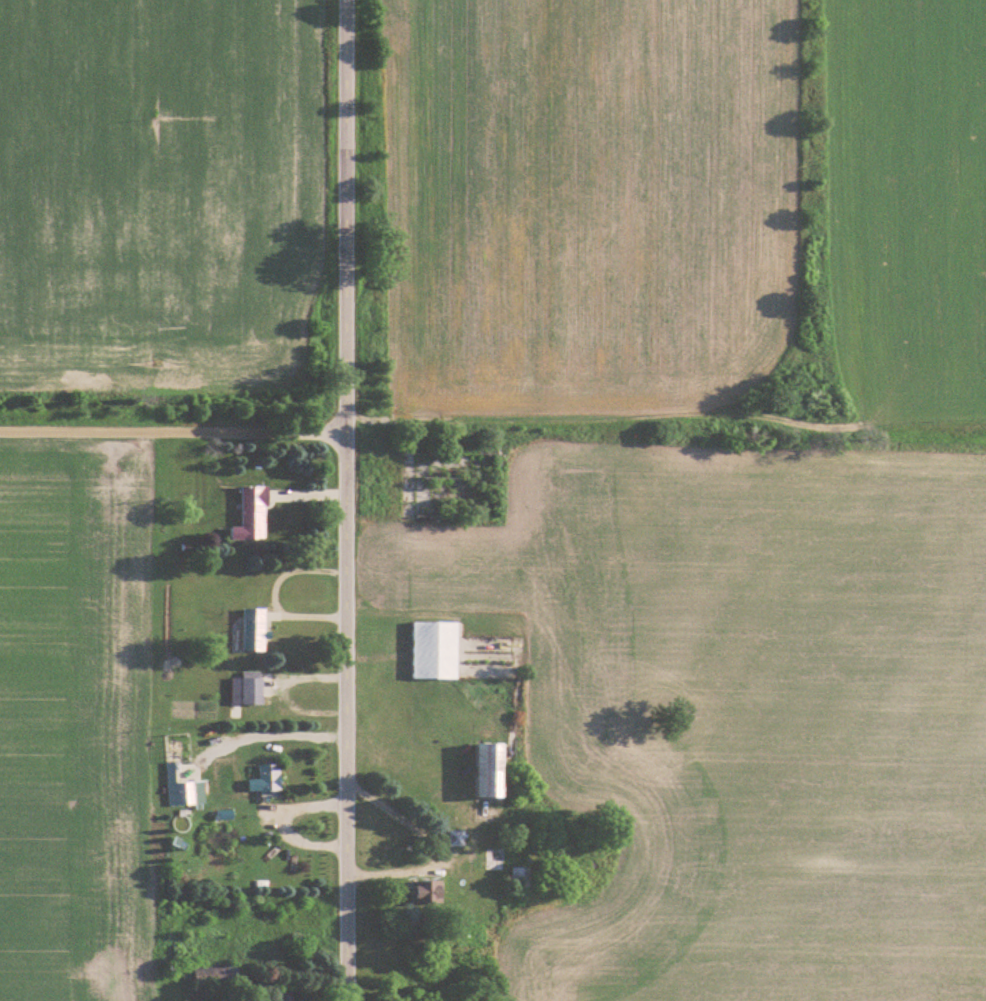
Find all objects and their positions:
road: (173, 434)
building: (476, 465)
road: (347, 500)
building: (253, 513)
road: (274, 595)
building: (254, 629)
building: (437, 649)
building: (247, 690)
building: (493, 769)
building: (270, 780)
building: (184, 793)
road: (279, 820)
building: (457, 838)
road: (439, 847)
building: (498, 858)
building: (429, 891)
building: (216, 976)
building: (289, 996)

